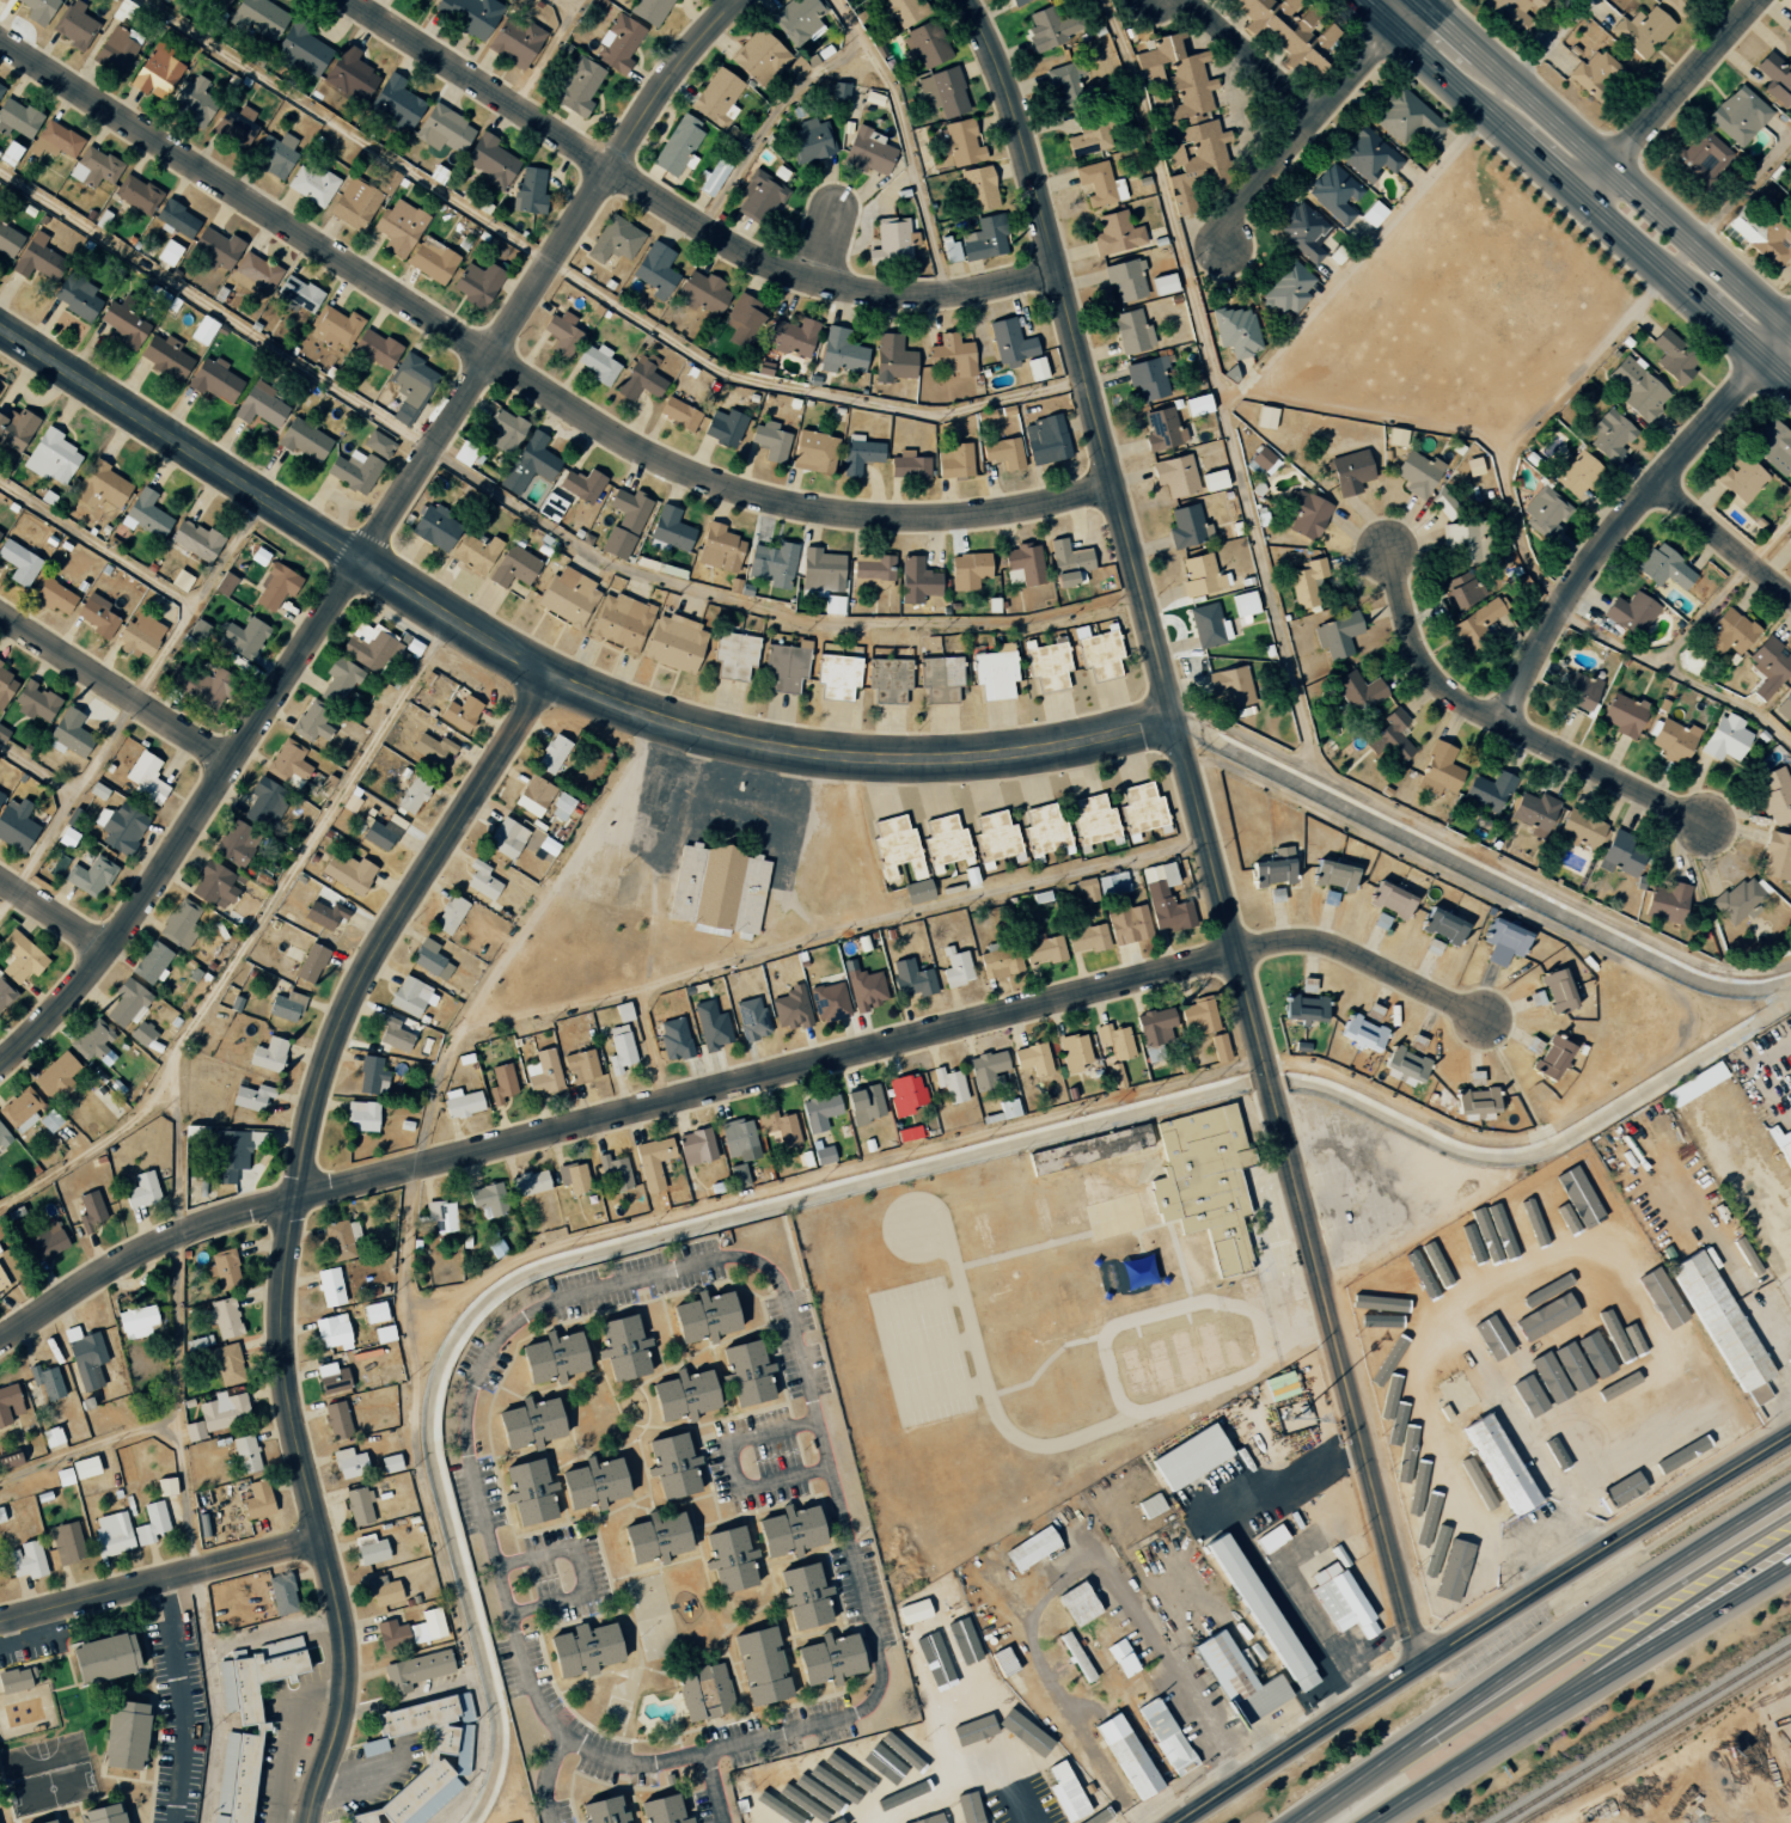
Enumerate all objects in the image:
building: (1, 0)
building: (1017, 1)
building: (220, 2)
building: (1676, 5)
road: (1413, 8)
building: (38, 10)
building: (122, 10)
building: (650, 11)
building: (903, 11)
building: (1511, 11)
road: (1400, 12)
building: (470, 14)
building: (259, 17)
building: (799, 20)
building: (74, 25)
building: (1050, 27)
building: (1787, 30)
building: (1290, 31)
building: (1642, 31)
building: (515, 41)
road: (1546, 42)
building: (619, 43)
building: (927, 44)
building: (117, 48)
building: (301, 50)
road: (1246, 54)
building: (760, 56)
building: (157, 72)
building: (350, 74)
building: (1595, 74)
building: (1066, 79)
building: (1775, 79)
building: (579, 86)
building: (0, 90)
building: (945, 91)
road: (1667, 96)
building: (717, 97)
building: (196, 102)
building: (395, 104)
building: (1188, 111)
building: (1738, 115)
building: (18, 117)
building: (1406, 117)
road: (769, 121)
building: (236, 124)
road: (1307, 126)
building: (444, 129)
road: (903, 139)
building: (1089, 139)
building: (54, 140)
building: (808, 141)
building: (962, 142)
building: (679, 145)
building: (868, 151)
building: (8, 153)
building: (276, 154)
building: (1368, 154)
building: (1705, 154)
building: (491, 161)
building: (94, 167)
road: (1606, 169)
building: (438, 173)
building: (713, 177)
building: (387, 181)
building: (1100, 183)
building: (313, 185)
building: (979, 188)
building: (530, 190)
building: (137, 194)
building: (1335, 194)
building: (760, 196)
building: (355, 203)
road: (1729, 203)
road: (1595, 207)
road: (683, 212)
building: (1373, 213)
building: (177, 218)
building: (399, 226)
building: (1303, 231)
building: (1117, 233)
building: (7, 237)
building: (985, 238)
building: (1764, 238)
building: (615, 239)
building: (891, 241)
building: (216, 247)
building: (949, 249)
building: (169, 252)
building: (37, 257)
building: (432, 259)
building: (655, 268)
building: (253, 273)
building: (1126, 279)
building: (478, 285)
building: (1288, 288)
building: (703, 292)
building: (299, 293)
building: (157, 295)
building: (78, 296)
building: (744, 320)
building: (122, 324)
building: (335, 328)
building: (203, 330)
building: (1132, 331)
building: (1236, 331)
building: (562, 334)
building: (791, 336)
building: (1010, 342)
building: (377, 348)
building: (841, 351)
building: (952, 355)
building: (166, 356)
building: (1674, 356)
building: (892, 359)
building: (598, 363)
building: (1037, 368)
road: (525, 378)
building: (641, 378)
building: (1148, 378)
building: (214, 379)
building: (411, 387)
building: (1637, 389)
building: (259, 404)
building: (1197, 404)
building: (680, 414)
building: (1265, 417)
building: (725, 427)
building: (17, 429)
building: (1163, 429)
building: (505, 430)
building: (1610, 434)
building: (1046, 439)
building: (304, 440)
building: (771, 441)
building: (378, 443)
building: (1774, 448)
building: (814, 452)
building: (1003, 452)
building: (860, 453)
building: (51, 457)
building: (1264, 460)
building: (955, 461)
building: (530, 463)
building: (909, 465)
building: (354, 470)
building: (1350, 471)
building: (1418, 473)
building: (1578, 473)
building: (1175, 475)
building: (1741, 478)
building: (1214, 479)
building: (582, 484)
building: (100, 485)
building: (1445, 503)
building: (550, 507)
building: (1544, 512)
road: (1628, 513)
building: (146, 514)
building: (1308, 514)
building: (624, 522)
building: (435, 527)
building: (671, 527)
building: (1188, 527)
building: (0, 532)
road: (374, 536)
road: (1724, 536)
building: (1789, 536)
building: (195, 539)
building: (1465, 542)
building: (720, 549)
building: (476, 552)
building: (19, 562)
building: (1069, 563)
building: (772, 564)
building: (1023, 565)
building: (514, 567)
building: (1665, 568)
building: (968, 570)
building: (873, 571)
building: (821, 573)
building: (1202, 575)
building: (181, 580)
building: (917, 580)
building: (1307, 582)
building: (225, 583)
building: (276, 586)
building: (1459, 591)
building: (54, 597)
building: (568, 597)
building: (833, 605)
building: (1245, 606)
building: (1631, 613)
building: (97, 616)
building: (619, 620)
building: (1475, 624)
building: (1209, 625)
building: (198, 630)
building: (1730, 631)
building: (1337, 635)
building: (140, 636)
building: (242, 636)
building: (674, 643)
building: (1190, 643)
building: (371, 647)
building: (1099, 651)
building: (734, 655)
building: (1689, 661)
building: (1047, 665)
building: (786, 666)
building: (1769, 666)
building: (995, 672)
road: (544, 673)
building: (838, 675)
building: (941, 678)
building: (890, 679)
building: (340, 680)
building: (6, 685)
building: (206, 686)
road: (115, 687)
building: (1233, 687)
building: (1359, 691)
building: (1581, 691)
building: (35, 701)
building: (1784, 705)
building: (460, 712)
building: (1624, 714)
building: (312, 722)
road: (1506, 726)
building: (2, 734)
building: (69, 734)
building: (1390, 735)
building: (1726, 738)
building: (1674, 740)
building: (432, 747)
building: (551, 753)
building: (288, 764)
building: (1439, 770)
building: (146, 777)
building: (1773, 787)
building: (1490, 791)
building: (412, 795)
building: (0, 796)
building: (533, 796)
building: (265, 802)
building: (561, 807)
building: (1535, 813)
building: (1094, 822)
building: (16, 825)
building: (121, 827)
road: (1203, 827)
building: (1582, 827)
building: (1044, 831)
building: (383, 832)
building: (66, 837)
building: (506, 838)
building: (996, 838)
building: (945, 843)
building: (236, 844)
building: (548, 846)
building: (895, 848)
building: (1620, 855)
building: (1777, 856)
building: (1275, 868)
building: (348, 873)
building: (1333, 875)
building: (91, 876)
building: (482, 880)
building: (1113, 883)
building: (213, 885)
building: (1086, 887)
building: (717, 889)
building: (918, 892)
building: (1330, 898)
building: (1165, 899)
building: (1390, 899)
building: (1738, 900)
road: (8, 901)
building: (1667, 901)
building: (324, 912)
road: (53, 914)
building: (450, 914)
building: (1381, 920)
building: (181, 923)
building: (1129, 924)
building: (1443, 925)
road: (249, 936)
building: (1088, 938)
building: (1503, 942)
building: (1434, 946)
building: (1044, 949)
building: (20, 958)
building: (430, 959)
building: (1000, 961)
building: (152, 962)
building: (311, 964)
building: (955, 967)
building: (912, 978)
building: (867, 989)
building: (1557, 989)
building: (5, 995)
building: (411, 997)
building: (1536, 997)
building: (829, 1002)
building: (128, 1003)
building: (286, 1007)
building: (790, 1008)
building: (1306, 1008)
building: (623, 1013)
building: (1199, 1014)
building: (752, 1018)
building: (711, 1024)
building: (1155, 1026)
building: (1362, 1032)
building: (142, 1033)
building: (393, 1034)
building: (674, 1039)
building: (92, 1044)
building: (1114, 1047)
building: (1220, 1047)
building: (619, 1050)
building: (1072, 1051)
building: (268, 1054)
building: (1552, 1057)
building: (1033, 1058)
building: (1406, 1063)
building: (581, 1066)
building: (988, 1070)
building: (543, 1072)
building: (56, 1076)
building: (372, 1076)
building: (1399, 1077)
building: (501, 1083)
building: (1695, 1083)
road: (732, 1084)
building: (950, 1084)
building: (905, 1093)
building: (251, 1097)
building: (1477, 1100)
building: (461, 1103)
building: (864, 1103)
building: (1008, 1108)
building: (22, 1109)
building: (820, 1111)
building: (1478, 1115)
building: (361, 1117)
building: (50, 1120)
building: (780, 1126)
building: (194, 1132)
building: (907, 1133)
building: (4, 1136)
building: (739, 1138)
building: (1784, 1142)
building: (696, 1146)
building: (1089, 1148)
road: (176, 1150)
building: (228, 1152)
building: (823, 1155)
building: (653, 1161)
building: (616, 1170)
building: (574, 1177)
building: (1205, 1180)
building: (528, 1182)
building: (141, 1191)
building: (1597, 1193)
building: (488, 1199)
building: (1536, 1201)
building: (91, 1210)
building: (1496, 1210)
building: (440, 1215)
road: (292, 1223)
building: (341, 1238)
building: (45, 1242)
building: (225, 1267)
road: (660, 1272)
building: (6, 1274)
building: (330, 1286)
building: (1662, 1297)
building: (374, 1311)
building: (1547, 1315)
building: (704, 1316)
building: (226, 1317)
building: (1719, 1320)
building: (136, 1321)
building: (332, 1330)
building: (384, 1333)
building: (622, 1347)
building: (1597, 1348)
building: (552, 1356)
building: (85, 1357)
building: (1701, 1360)
building: (226, 1364)
building: (1559, 1370)
building: (745, 1372)
building: (331, 1377)
building: (63, 1378)
building: (49, 1383)
building: (1280, 1384)
building: (1758, 1393)
building: (1528, 1394)
building: (683, 1395)
building: (8, 1403)
building: (224, 1411)
building: (337, 1419)
road: (176, 1423)
building: (530, 1423)
building: (194, 1430)
building: (245, 1454)
building: (1190, 1456)
building: (8, 1460)
building: (349, 1463)
building: (390, 1463)
building: (1499, 1463)
building: (85, 1467)
building: (63, 1476)
building: (592, 1482)
building: (165, 1486)
building: (528, 1492)
road: (184, 1497)
building: (257, 1499)
building: (359, 1505)
building: (151, 1523)
road: (1784, 1529)
building: (789, 1531)
building: (111, 1534)
building: (656, 1537)
building: (1271, 1538)
building: (67, 1542)
building: (1031, 1548)
building: (371, 1549)
building: (728, 1559)
building: (26, 1560)
building: (1453, 1571)
road: (159, 1578)
building: (374, 1580)
road: (1703, 1582)
building: (282, 1593)
building: (385, 1593)
building: (805, 1595)
building: (1338, 1596)
building: (1078, 1603)
building: (913, 1611)
building: (1260, 1611)
road: (1480, 1623)
building: (427, 1626)
building: (391, 1634)
building: (582, 1650)
road: (1541, 1651)
building: (104, 1657)
building: (1121, 1657)
building: (827, 1659)
building: (1003, 1660)
building: (760, 1665)
building: (415, 1670)
building: (14, 1680)
building: (1237, 1680)
road: (1578, 1690)
building: (704, 1692)
road: (1551, 1697)
road: (177, 1700)
building: (247, 1718)
road: (1463, 1724)
building: (973, 1730)
railway: (1643, 1732)
building: (1025, 1735)
building: (124, 1736)
building: (1166, 1736)
railway: (1655, 1739)
railway: (1665, 1745)
building: (373, 1746)
building: (447, 1750)
building: (886, 1752)
building: (1126, 1756)
building: (862, 1762)
building: (839, 1776)
road: (549, 1779)
building: (811, 1788)
road: (715, 1791)
building: (1065, 1792)
building: (787, 1803)
building: (968, 1807)
building: (662, 1810)
building: (601, 1811)
building: (103, 1815)
building: (929, 1818)
building: (50, 1821)
building: (764, 1822)

